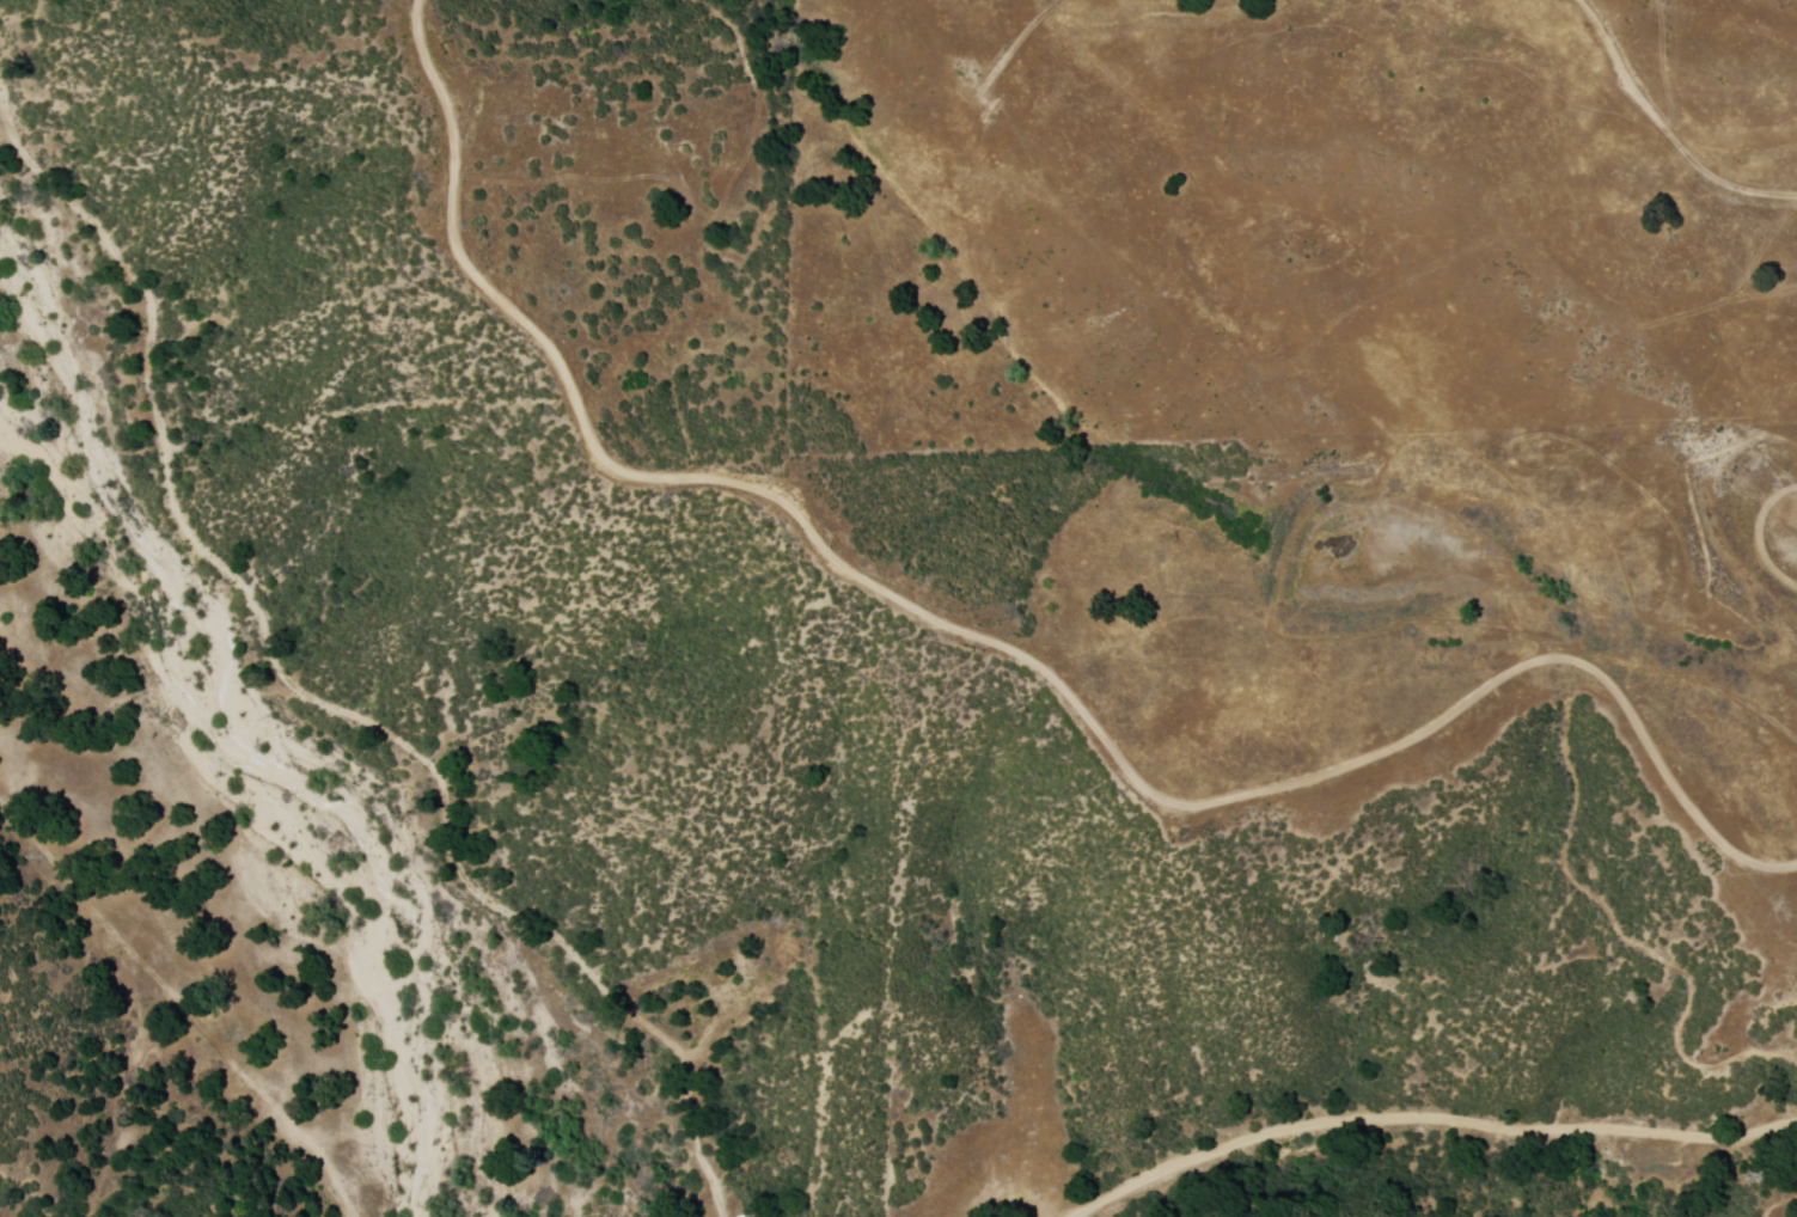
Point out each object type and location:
road: (310, 692)
road: (238, 981)
road: (1434, 1115)

